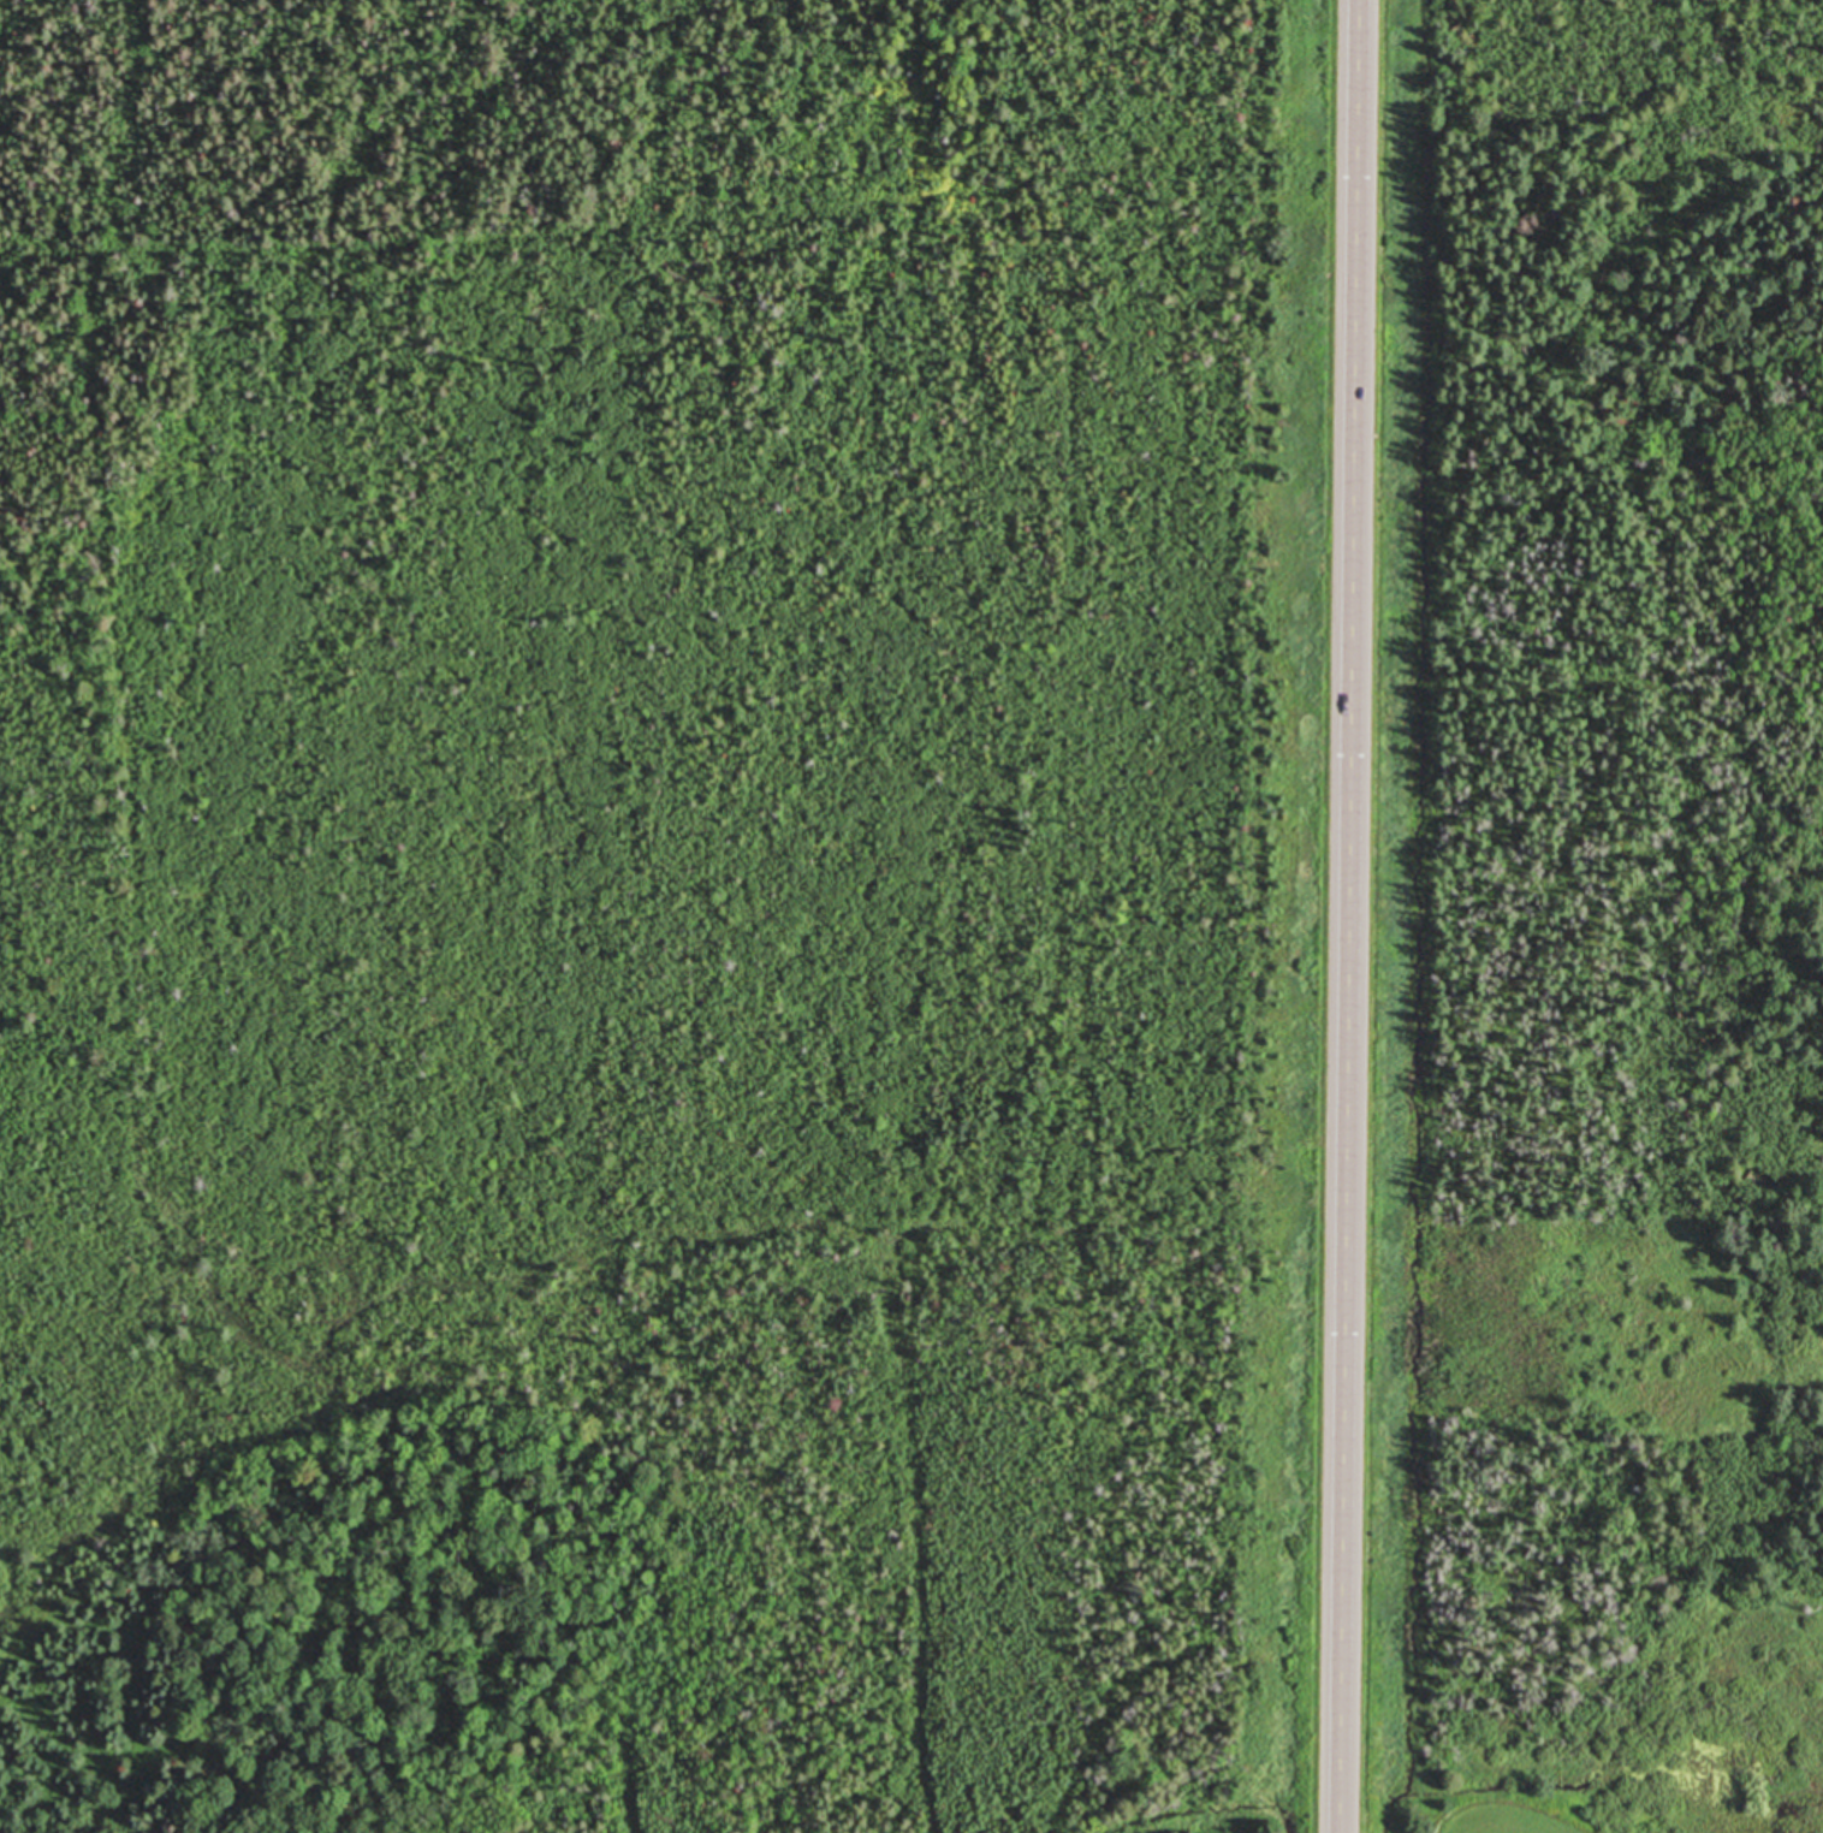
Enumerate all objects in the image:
road: (1348, 917)

